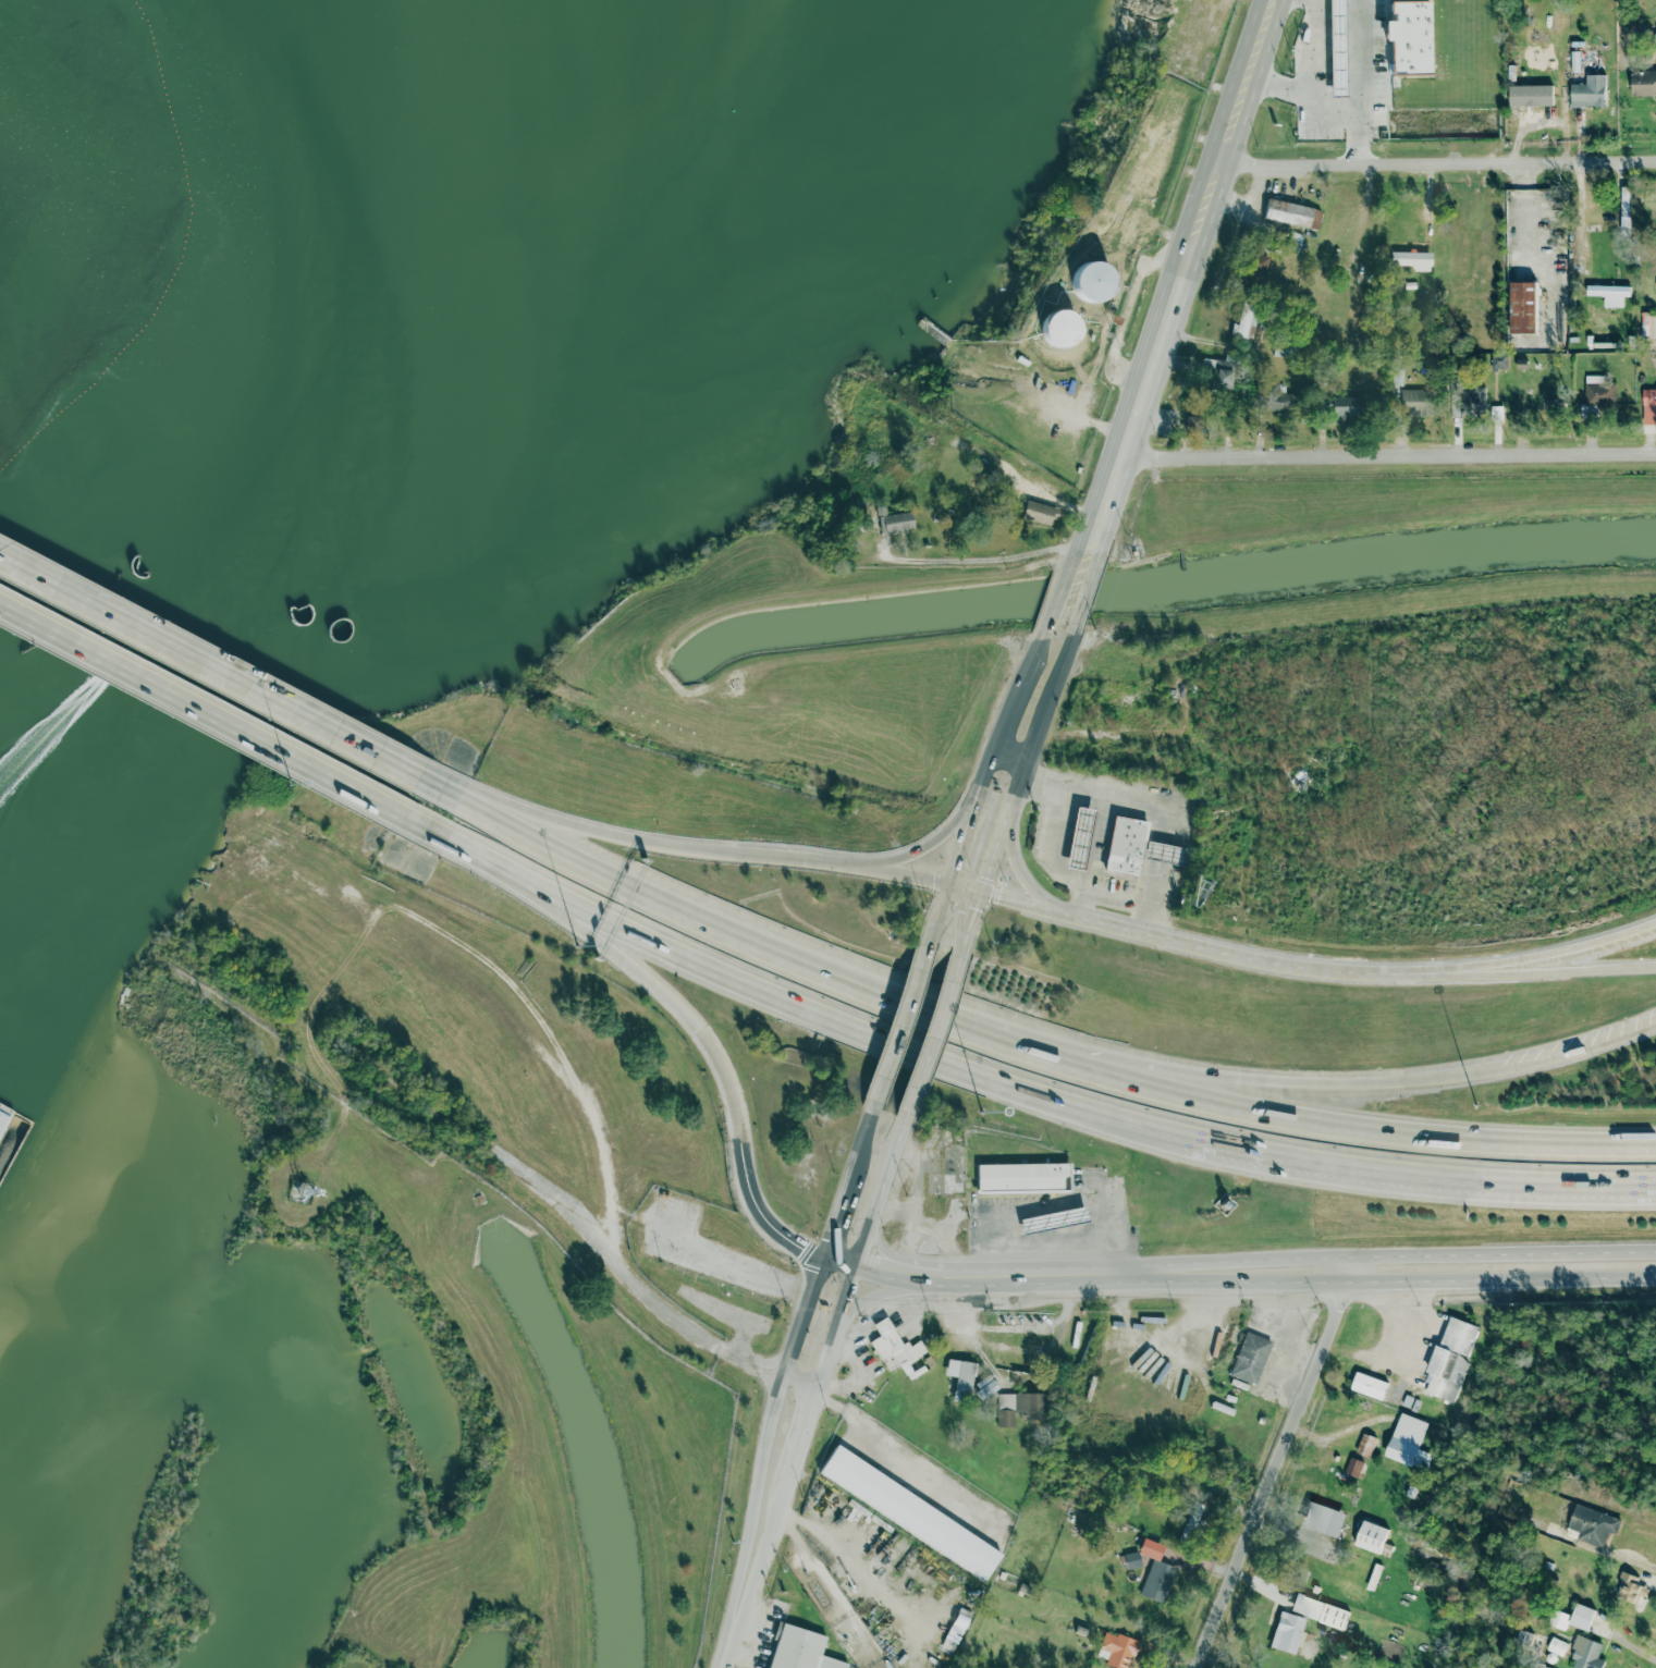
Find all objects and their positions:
building: (1183, 1)
building: (1410, 37)
building: (1337, 39)
building: (1585, 60)
building: (1643, 81)
road: (1359, 82)
road: (1316, 86)
building: (1517, 89)
building: (1595, 90)
road: (1231, 122)
road: (1437, 162)
landfill: (71, 185)
building: (1288, 211)
building: (1605, 223)
building: (1348, 259)
building: (1414, 259)
building: (1255, 270)
road: (1549, 273)
building: (1094, 281)
building: (1410, 285)
building: (1608, 290)
building: (1524, 307)
road: (1129, 309)
building: (1244, 321)
building: (1648, 324)
building: (1062, 328)
building: (1362, 344)
building: (1284, 347)
building: (1499, 361)
building: (1522, 363)
road: (1148, 373)
building: (1398, 377)
building: (1225, 380)
river: (289, 382)
building: (1599, 391)
building: (1469, 397)
building: (1275, 398)
building: (1416, 402)
building: (1649, 404)
building: (1323, 405)
building: (1349, 406)
building: (1497, 413)
building: (1194, 426)
road: (1388, 457)
building: (1010, 504)
building: (1041, 512)
building: (1008, 517)
building: (899, 523)
road: (1083, 526)
road: (1105, 528)
building: (928, 544)
road: (980, 560)
road: (1089, 589)
road: (1059, 591)
road: (209, 670)
road: (1017, 689)
road: (1051, 696)
road: (205, 716)
road: (1008, 758)
river: (51, 782)
road: (970, 818)
road: (1004, 829)
road: (609, 835)
building: (1080, 839)
gas station: (1080, 839)
building: (1127, 846)
road: (924, 847)
building: (1164, 853)
gas station: (1164, 853)
road: (1013, 860)
traffic signals: (955, 864)
road: (878, 871)
road: (1060, 871)
traffic signals: (999, 897)
road: (1083, 907)
traffic signals: (977, 909)
road: (973, 916)
road: (936, 918)
road: (615, 949)
road: (962, 953)
road: (1299, 967)
road: (1530, 974)
road: (805, 998)
road: (898, 1032)
road: (932, 1041)
road: (1013, 1047)
road: (1565, 1055)
road: (1248, 1082)
road: (586, 1096)
road: (867, 1131)
road: (1431, 1177)
building: (1022, 1178)
road: (841, 1203)
road: (1052, 1210)
road: (764, 1212)
building: (1053, 1222)
road: (657, 1226)
traffic signals: (829, 1241)
traffic signals: (801, 1247)
road: (881, 1247)
road: (861, 1252)
road: (860, 1254)
traffic signals: (880, 1258)
road: (1299, 1260)
road: (920, 1267)
road: (1238, 1283)
traffic signals: (850, 1286)
road: (872, 1297)
road: (804, 1314)
building: (1153, 1317)
building: (1077, 1334)
building: (897, 1348)
building: (1251, 1358)
building: (1450, 1359)
building: (930, 1360)
building: (962, 1377)
road: (798, 1383)
building: (1369, 1385)
building: (985, 1386)
road: (776, 1398)
building: (1019, 1407)
building: (1409, 1442)
road: (799, 1443)
building: (1366, 1445)
road: (906, 1459)
road: (1274, 1463)
building: (1354, 1467)
road: (780, 1503)
building: (910, 1510)
building: (1324, 1519)
building: (1593, 1525)
building: (1372, 1536)
road: (746, 1546)
road: (814, 1560)
road: (855, 1562)
building: (1156, 1572)
building: (1630, 1589)
road: (748, 1591)
building: (1320, 1610)
building: (1582, 1617)
building: (1558, 1619)
building: (958, 1627)
building: (1288, 1632)
road: (882, 1646)
building: (1557, 1646)
building: (801, 1649)
building: (1117, 1649)
building: (1586, 1653)

